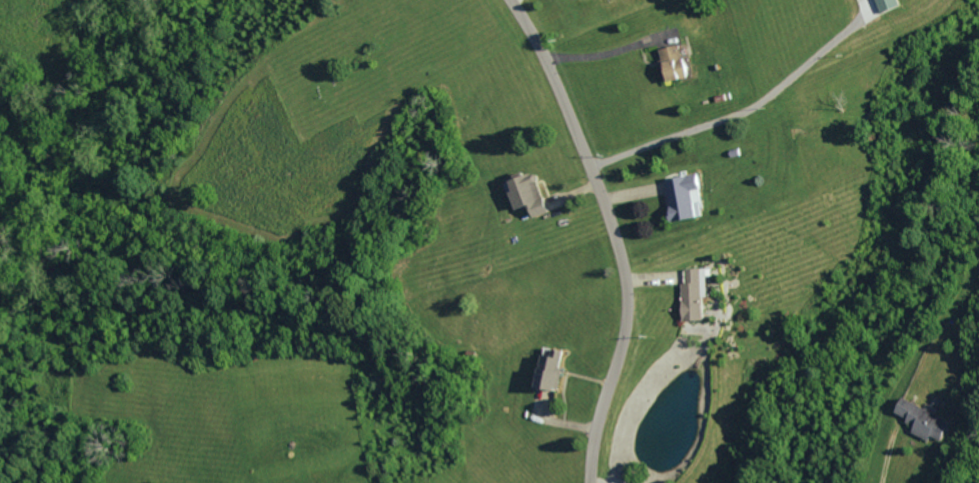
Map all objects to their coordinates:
building: (894, 5)
road: (602, 53)
building: (679, 63)
road: (738, 117)
building: (533, 193)
building: (690, 196)
road: (618, 233)
building: (700, 294)
building: (555, 371)
building: (928, 420)
road: (892, 453)

